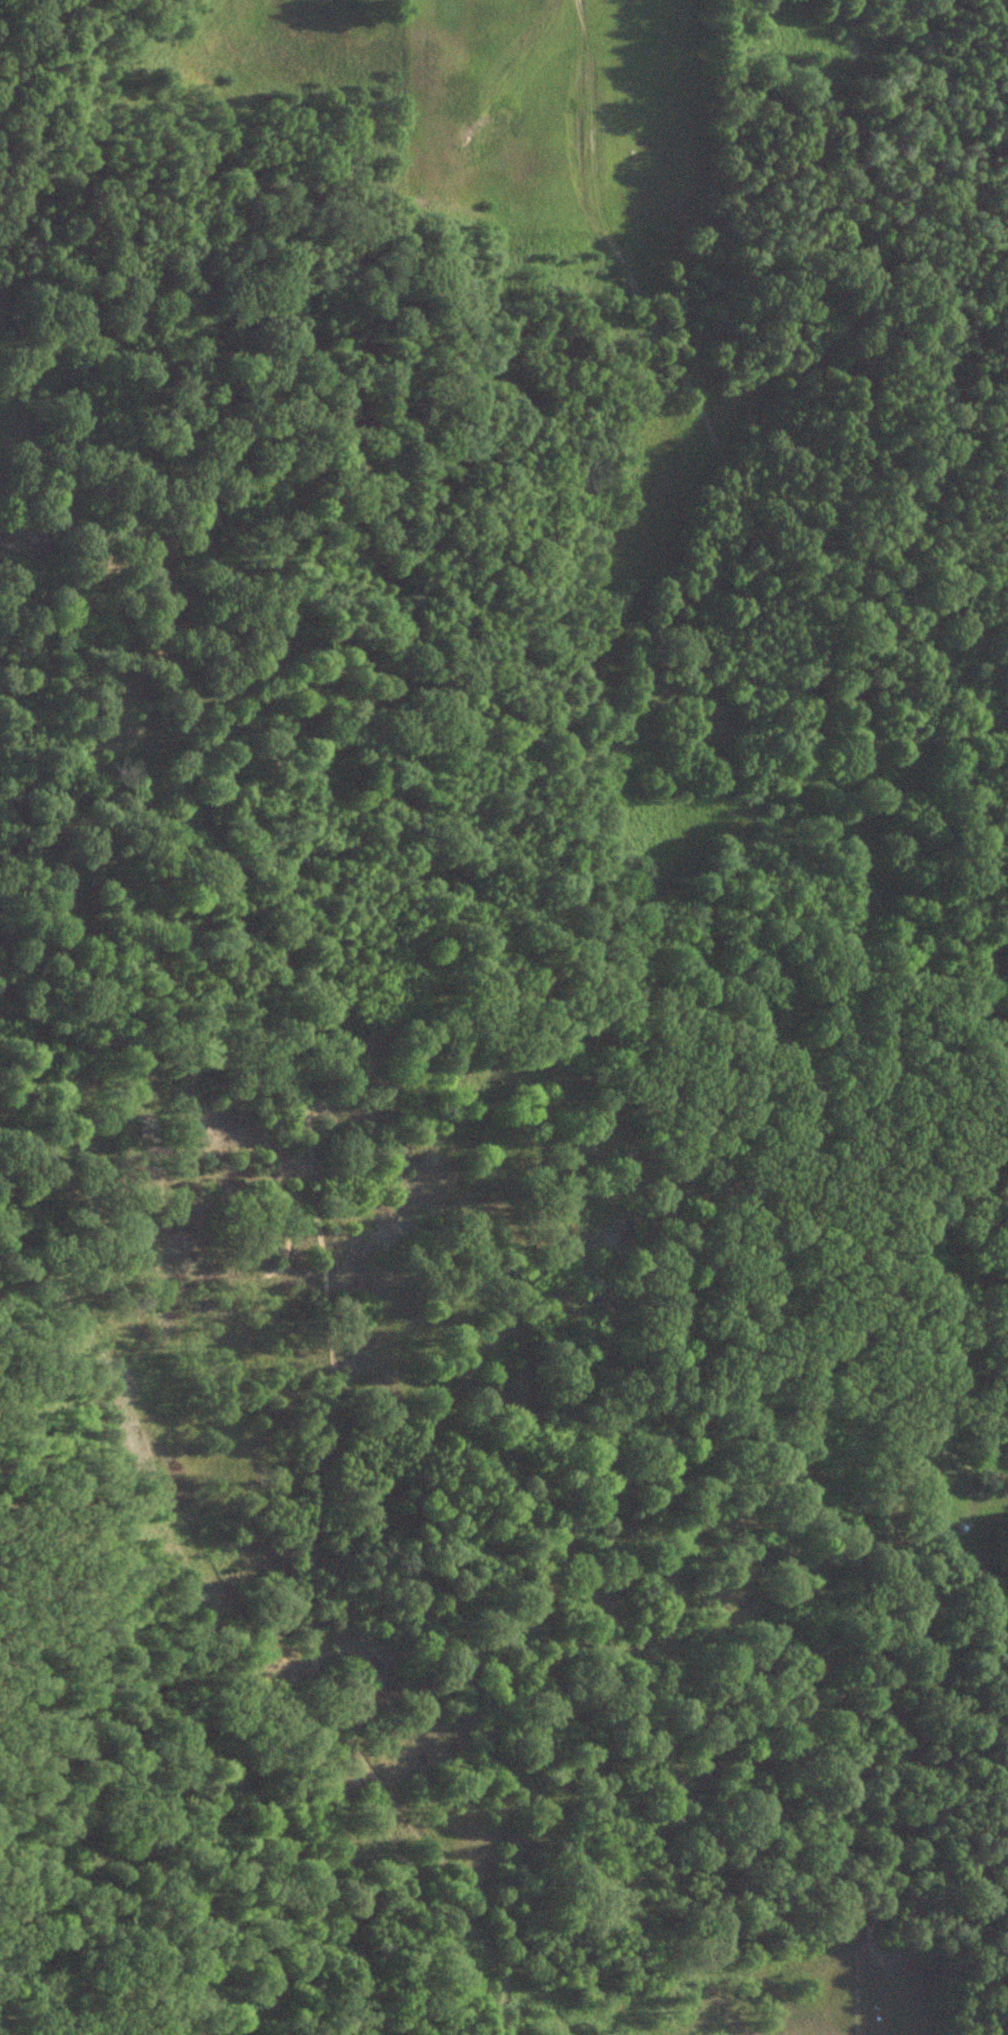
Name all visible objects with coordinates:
road: (477, 832)
road: (192, 1530)
road: (447, 1859)

